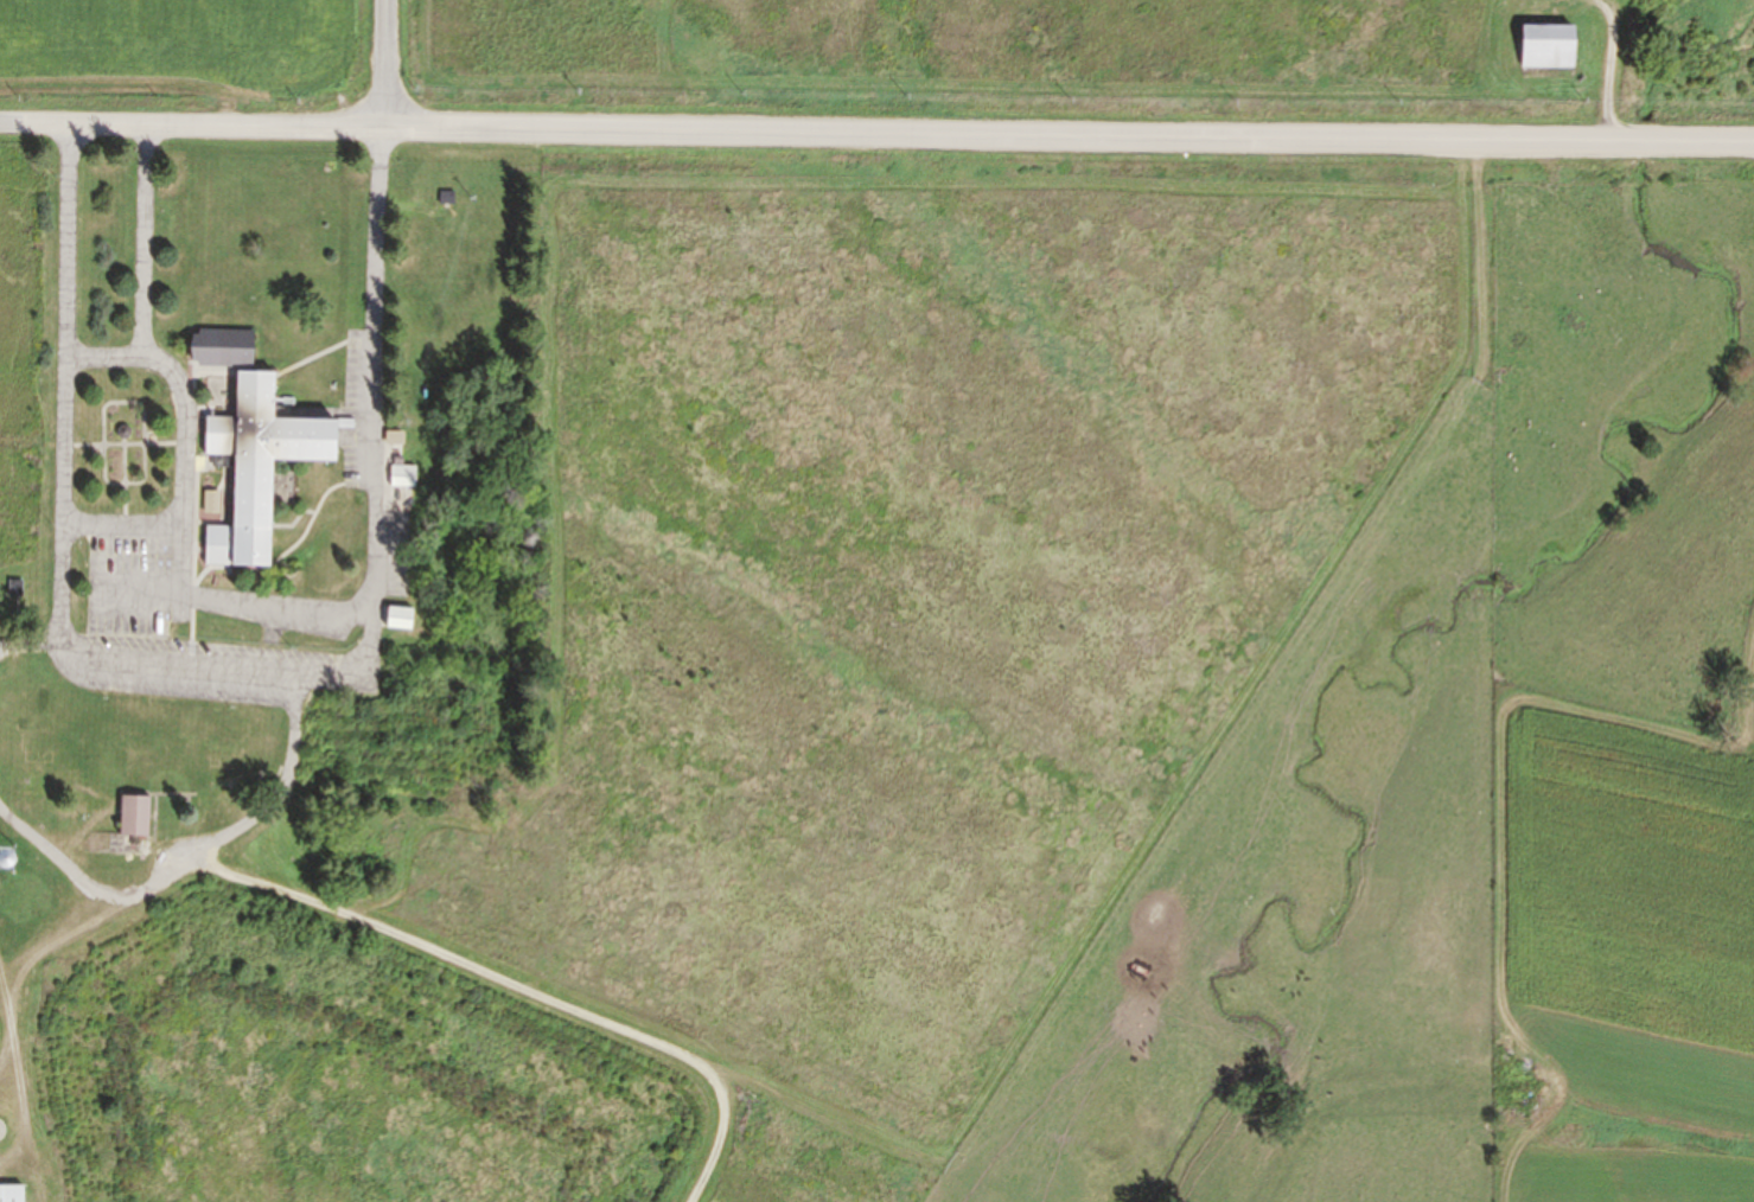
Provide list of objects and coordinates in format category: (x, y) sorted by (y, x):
building: (1543, 33)
road: (1611, 68)
road: (192, 123)
road: (1009, 128)
building: (448, 199)
road: (142, 241)
building: (224, 349)
building: (396, 437)
building: (257, 468)
building: (404, 475)
building: (215, 503)
road: (120, 525)
road: (180, 525)
building: (400, 618)
parking lot: (204, 626)
road: (31, 646)
road: (227, 670)
building: (136, 816)
water tower: (4, 857)
road: (190, 863)
road: (53, 939)
road: (515, 989)
road: (8, 997)
road: (7, 1050)
road: (26, 1104)
building: (12, 1189)

